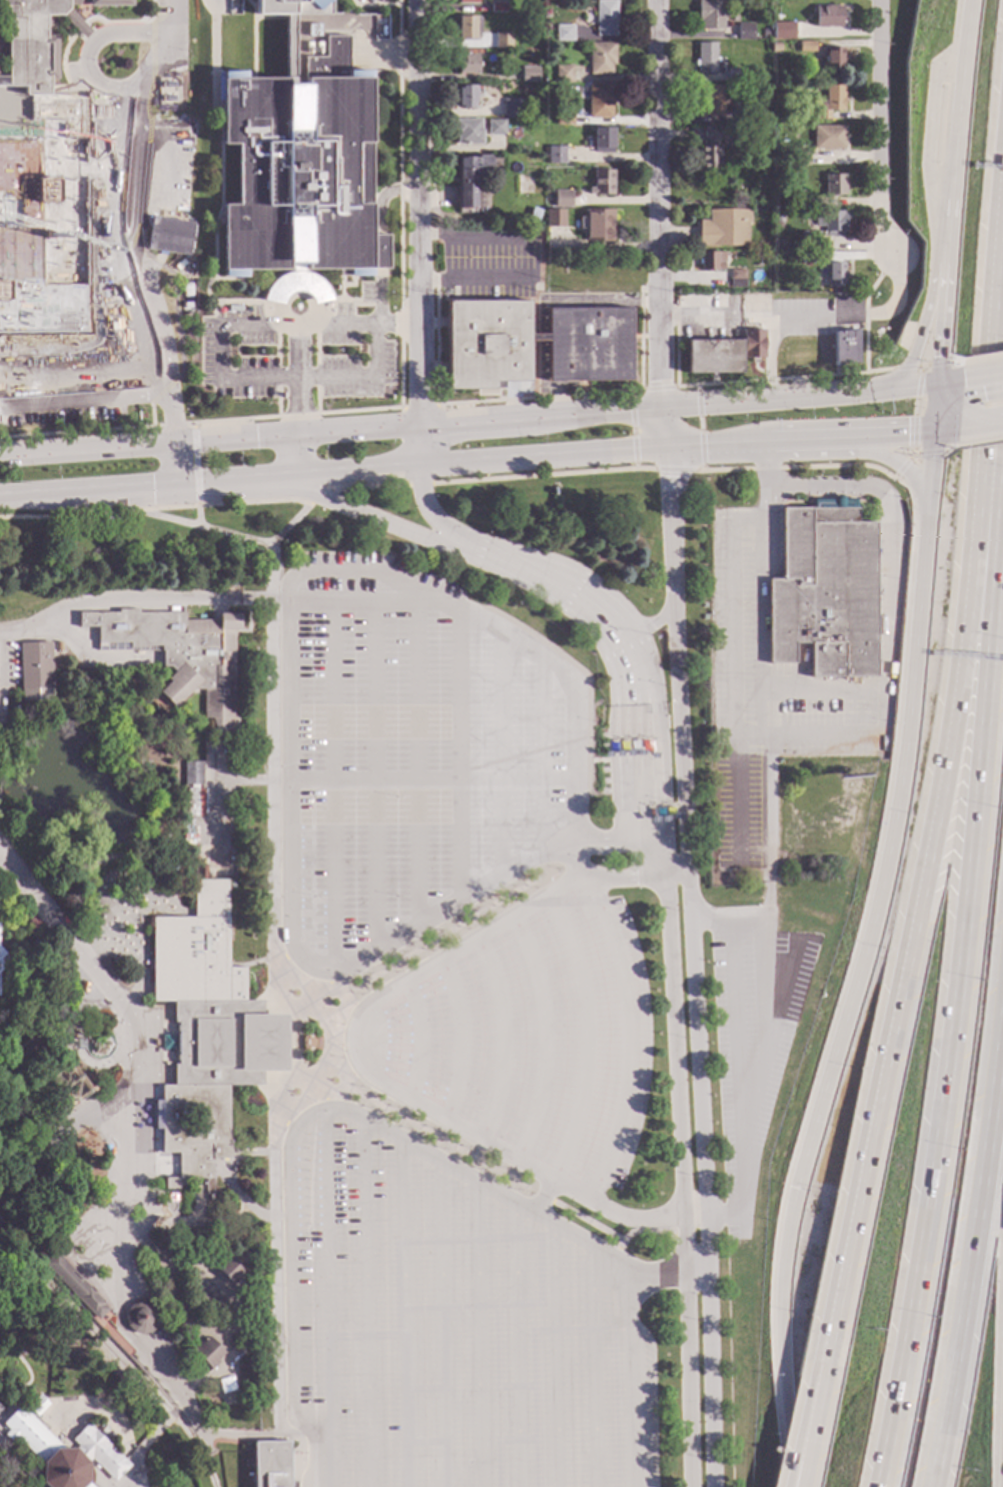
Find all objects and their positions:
road: (207, 1)
building: (466, 2)
building: (496, 7)
building: (710, 14)
building: (827, 16)
building: (605, 18)
building: (466, 27)
building: (744, 32)
building: (780, 32)
building: (563, 33)
building: (805, 34)
building: (501, 40)
road: (166, 44)
building: (805, 46)
building: (774, 48)
road: (89, 49)
building: (600, 58)
building: (705, 58)
building: (833, 59)
building: (466, 64)
building: (528, 74)
building: (562, 74)
building: (733, 74)
building: (788, 76)
building: (462, 96)
building: (599, 101)
building: (710, 101)
building: (828, 102)
building: (511, 108)
building: (745, 116)
building: (563, 117)
building: (495, 127)
road: (880, 129)
road: (954, 131)
building: (467, 132)
building: (828, 138)
building: (601, 140)
building: (709, 150)
building: (555, 155)
building: (799, 158)
building: (88, 164)
building: (299, 167)
building: (470, 182)
building: (601, 183)
building: (834, 185)
building: (41, 187)
road: (382, 197)
building: (562, 199)
building: (798, 201)
road: (161, 202)
road: (399, 204)
road: (115, 207)
building: (777, 217)
building: (553, 219)
building: (830, 223)
road: (657, 224)
building: (597, 225)
building: (723, 228)
road: (419, 234)
building: (164, 236)
road: (471, 237)
building: (809, 241)
building: (793, 242)
road: (378, 252)
building: (813, 257)
building: (711, 261)
building: (834, 274)
building: (736, 278)
road: (472, 279)
road: (937, 286)
road: (379, 298)
road: (865, 315)
road: (844, 316)
road: (694, 319)
road: (397, 328)
road: (437, 342)
building: (752, 344)
road: (160, 347)
building: (844, 348)
road: (936, 349)
road: (912, 352)
road: (9, 356)
building: (713, 357)
road: (983, 357)
traffic signals: (937, 358)
road: (59, 361)
building: (587, 361)
road: (955, 362)
building: (7, 364)
road: (920, 366)
road: (298, 372)
road: (784, 379)
road: (294, 381)
road: (983, 381)
traffic signals: (963, 385)
road: (950, 387)
road: (658, 389)
road: (912, 391)
road: (538, 397)
road: (87, 398)
road: (168, 406)
road: (419, 407)
road: (913, 409)
road: (934, 410)
road: (593, 416)
road: (200, 423)
road: (980, 424)
road: (699, 427)
road: (632, 430)
road: (945, 430)
traffic signals: (906, 434)
road: (890, 435)
road: (294, 437)
road: (998, 438)
road: (804, 440)
road: (229, 442)
road: (979, 443)
road: (713, 445)
road: (948, 449)
road: (85, 452)
road: (910, 455)
road: (290, 458)
road: (479, 463)
road: (195, 464)
road: (172, 466)
road: (793, 468)
road: (897, 468)
road: (673, 471)
road: (541, 475)
road: (766, 479)
road: (231, 481)
road: (419, 485)
road: (831, 486)
traffic signals: (151, 488)
road: (369, 488)
road: (86, 492)
road: (318, 498)
road: (154, 509)
road: (197, 516)
road: (433, 517)
building: (109, 518)
road: (379, 520)
road: (230, 536)
road: (270, 555)
building: (267, 557)
road: (497, 561)
building: (269, 567)
road: (271, 567)
road: (356, 573)
road: (546, 581)
road: (271, 586)
building: (827, 591)
road: (364, 602)
building: (519, 603)
road: (131, 604)
road: (646, 627)
road: (758, 627)
road: (611, 628)
building: (58, 645)
building: (177, 654)
road: (93, 662)
building: (664, 662)
road: (6, 664)
building: (35, 665)
parking lot: (757, 669)
road: (288, 672)
road: (573, 687)
road: (798, 691)
building: (666, 721)
building: (648, 722)
building: (616, 724)
building: (626, 724)
building: (637, 725)
road: (984, 728)
road: (621, 732)
road: (610, 733)
road: (632, 733)
road: (643, 733)
road: (796, 735)
road: (501, 757)
road: (540, 757)
parking lot: (411, 759)
road: (459, 759)
road: (416, 767)
building: (192, 772)
road: (658, 773)
road: (374, 780)
road: (431, 780)
road: (244, 782)
road: (332, 788)
building: (193, 803)
road: (666, 805)
road: (635, 810)
road: (217, 812)
building: (188, 826)
building: (189, 835)
road: (149, 837)
building: (188, 842)
road: (605, 844)
road: (578, 861)
road: (769, 863)
road: (636, 877)
road: (916, 917)
building: (101, 918)
building: (0, 946)
road: (421, 950)
building: (3, 960)
road: (861, 962)
road: (692, 967)
road: (339, 975)
building: (83, 987)
road: (70, 995)
road: (302, 1014)
building: (208, 1031)
road: (734, 1032)
road: (763, 1033)
parking lot: (522, 1039)
road: (583, 1040)
road: (502, 1041)
road: (543, 1041)
road: (419, 1043)
road: (460, 1043)
road: (70, 1049)
building: (14, 1055)
parking lot: (745, 1059)
road: (945, 1096)
building: (73, 1101)
road: (303, 1123)
road: (417, 1129)
road: (61, 1139)
road: (483, 1142)
road: (679, 1156)
road: (152, 1164)
road: (129, 1182)
road: (230, 1182)
road: (544, 1198)
road: (701, 1221)
road: (744, 1228)
road: (133, 1234)
road: (971, 1258)
building: (229, 1270)
road: (673, 1278)
road: (327, 1283)
building: (75, 1286)
road: (367, 1304)
railway: (84, 1311)
road: (405, 1314)
building: (140, 1317)
road: (442, 1324)
parking lot: (450, 1324)
road: (480, 1334)
railway: (97, 1344)
road: (517, 1345)
road: (228, 1351)
railway: (116, 1352)
building: (207, 1353)
road: (555, 1356)
road: (903, 1363)
road: (226, 1368)
road: (594, 1368)
road: (632, 1382)
road: (816, 1389)
road: (148, 1441)
road: (4, 1444)
building: (61, 1449)
road: (20, 1459)
road: (1001, 1460)
building: (271, 1464)
road: (795, 1468)
road: (798, 1468)
road: (98, 1478)

